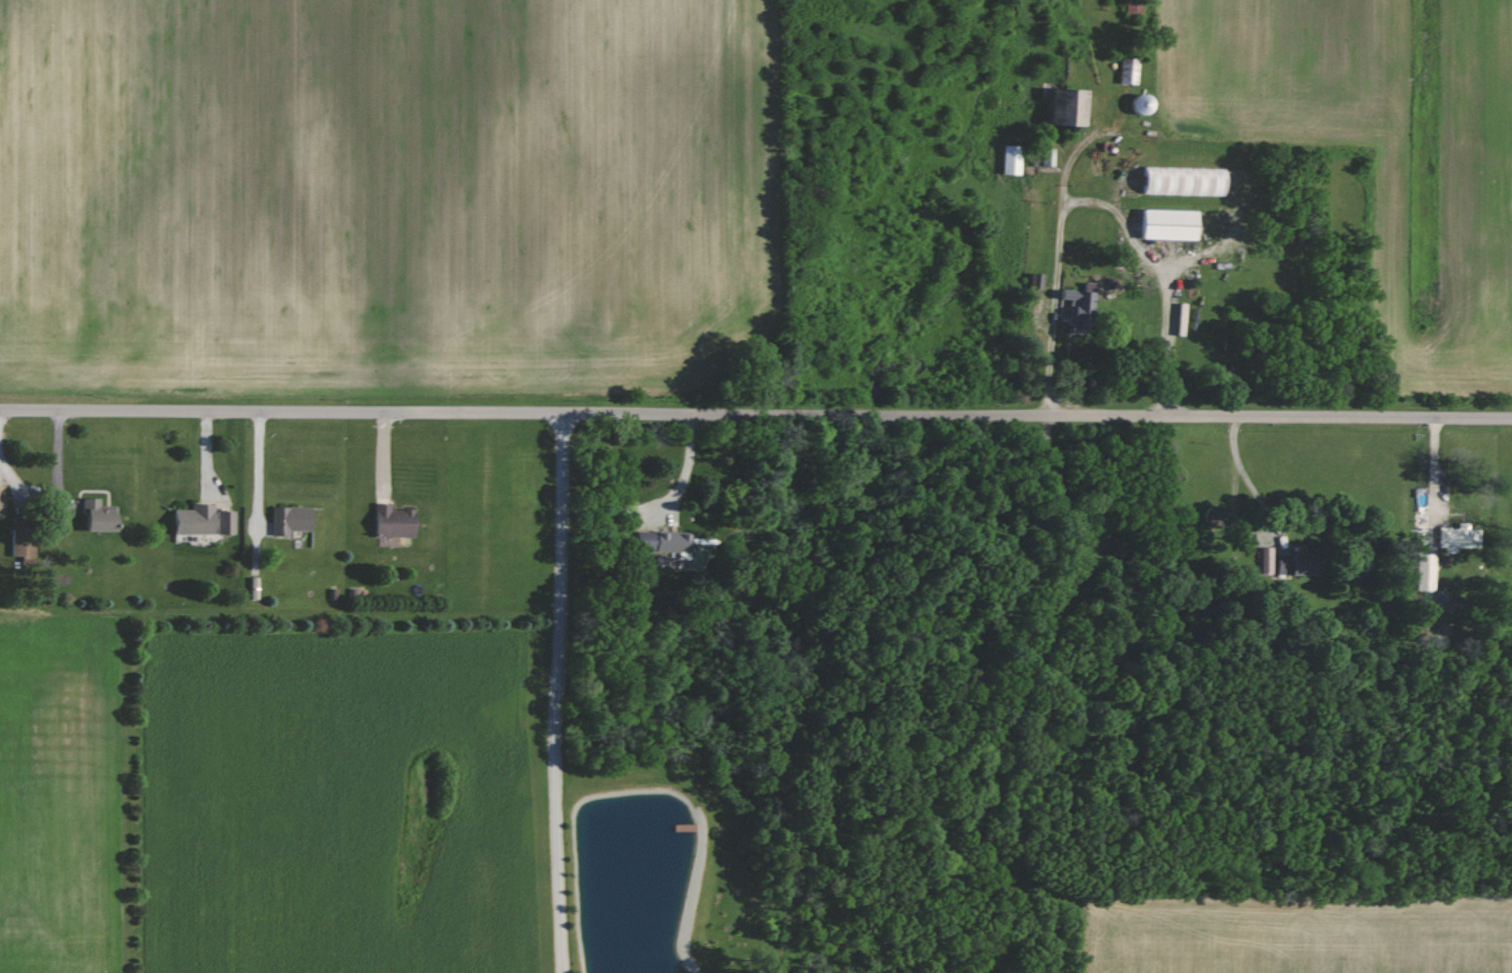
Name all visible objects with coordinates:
building: (1125, 71)
building: (1136, 104)
building: (1060, 107)
building: (1043, 157)
building: (1007, 160)
building: (1165, 225)
road: (1054, 271)
road: (1162, 276)
building: (1033, 281)
building: (1075, 306)
road: (755, 415)
road: (685, 470)
road: (257, 473)
building: (94, 516)
building: (287, 520)
building: (199, 521)
building: (388, 521)
building: (1452, 537)
building: (660, 542)
building: (1264, 560)
building: (1290, 564)
building: (1423, 572)
road: (553, 693)

